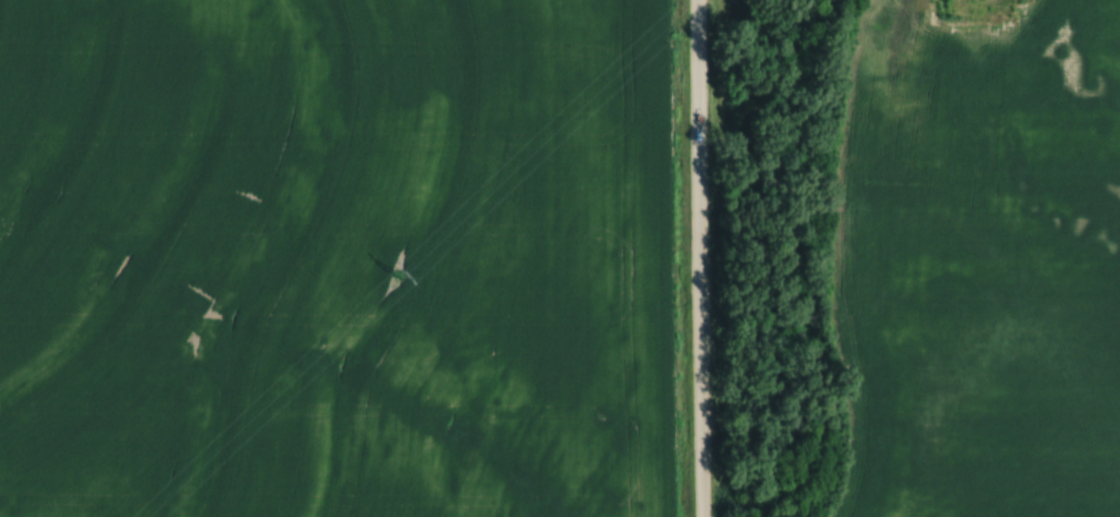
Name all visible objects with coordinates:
road: (699, 257)
power tower: (397, 274)

